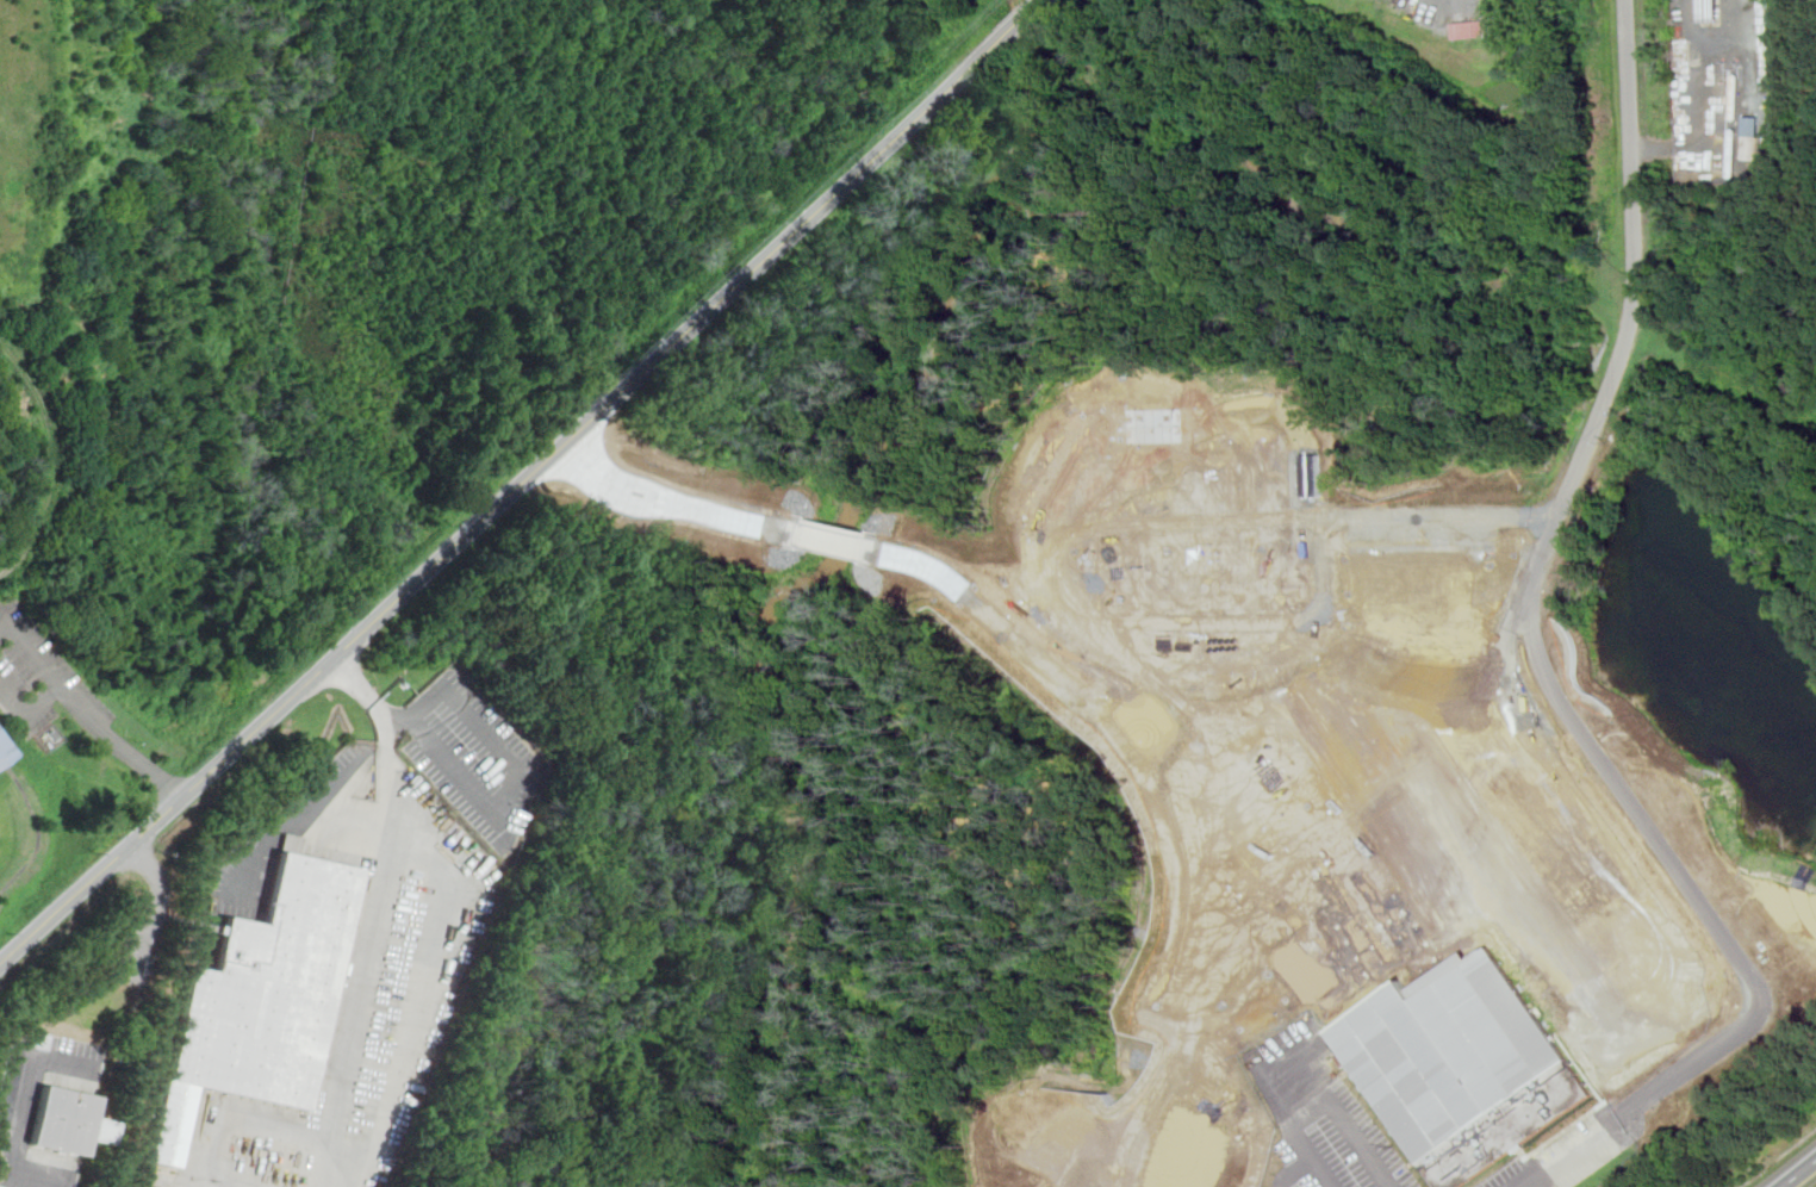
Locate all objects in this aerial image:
road: (1025, 20)
building: (1472, 29)
road: (1631, 100)
building: (1753, 136)
road: (502, 503)
building: (1499, 514)
building: (1418, 583)
road: (98, 710)
building: (2, 752)
road: (510, 758)
road: (1728, 918)
road: (362, 980)
road: (419, 987)
building: (261, 999)
building: (1448, 1050)
road: (1343, 1120)
road: (23, 1121)
building: (69, 1121)
road: (1295, 1123)
road: (1321, 1172)
road: (1799, 1174)

